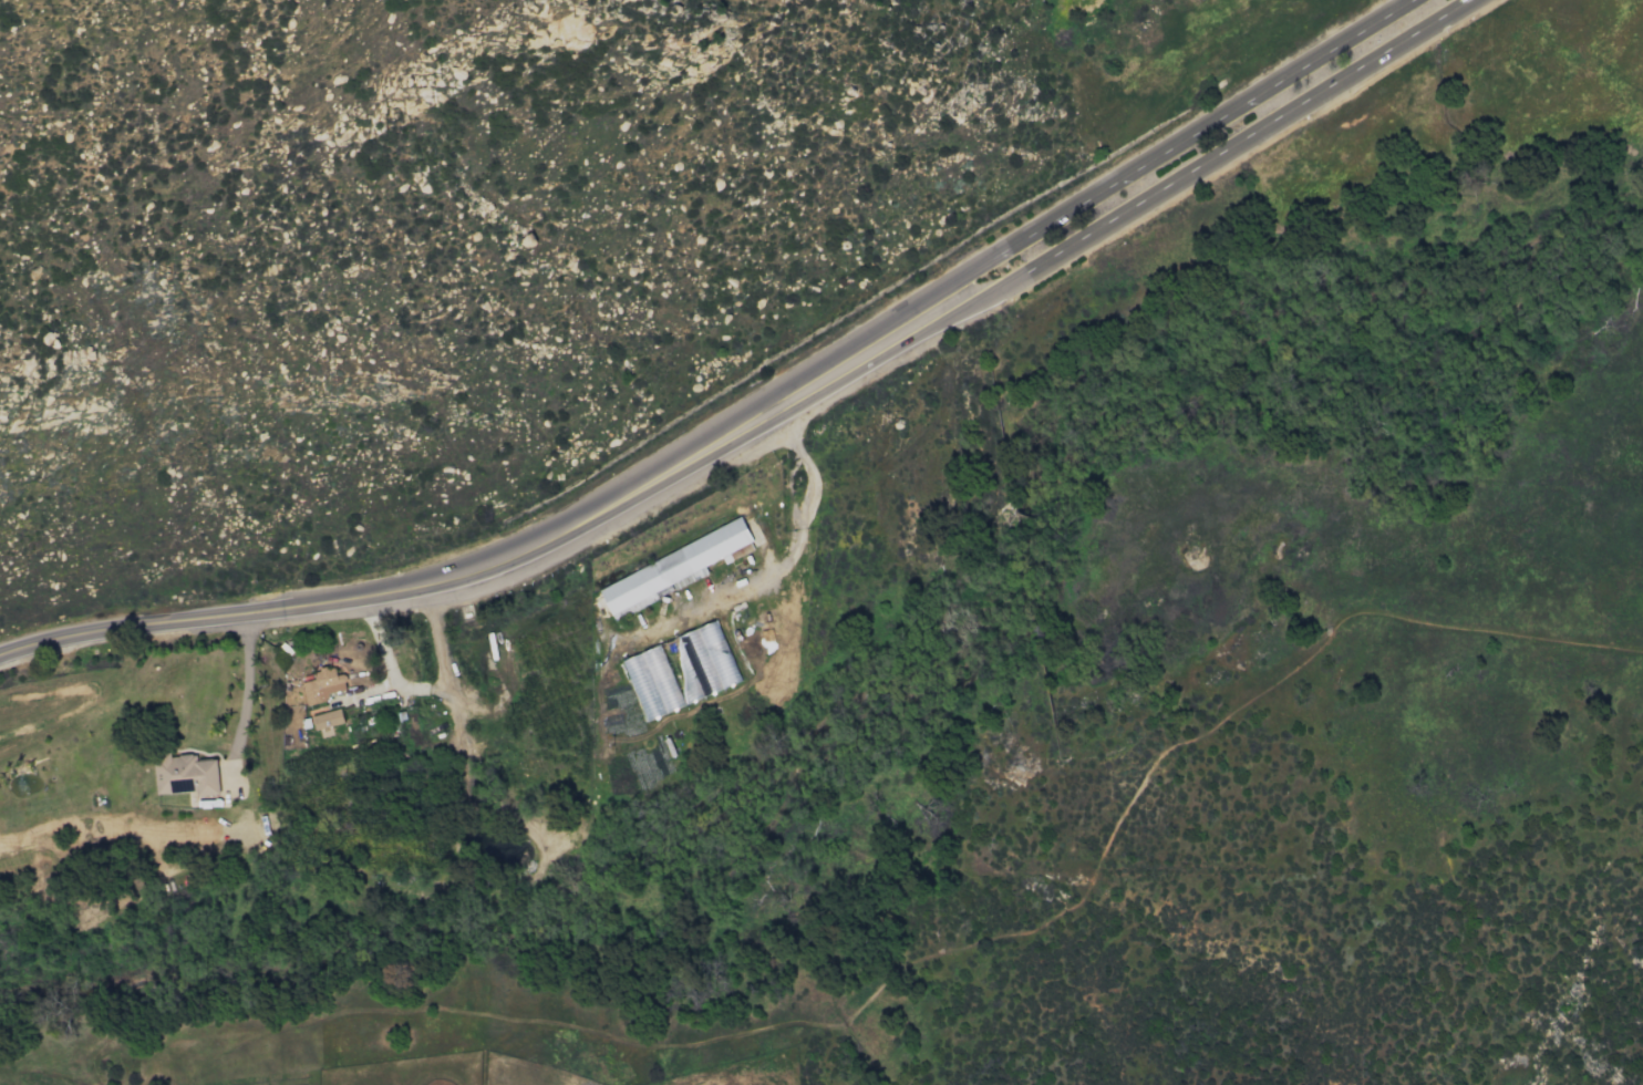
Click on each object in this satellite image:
road: (1401, 1)
road: (1084, 196)
road: (1120, 209)
road: (781, 567)
building: (669, 570)
road: (404, 587)
building: (682, 670)
building: (322, 684)
road: (237, 689)
road: (430, 689)
building: (327, 719)
building: (185, 774)

